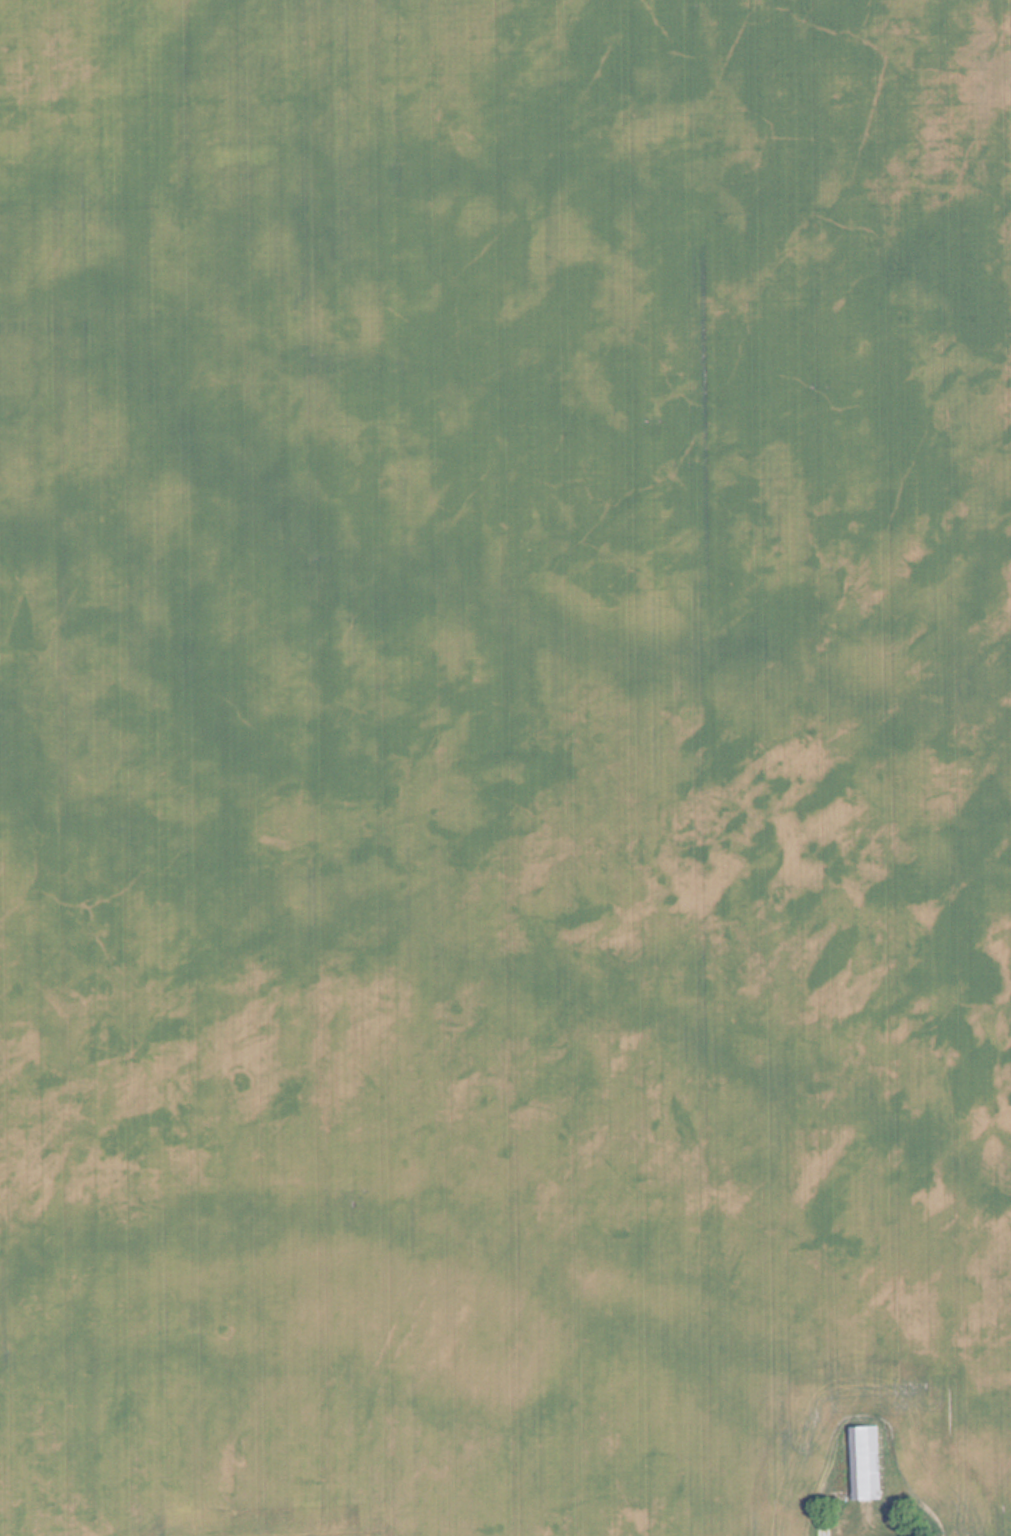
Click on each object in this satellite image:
building: (862, 1462)

